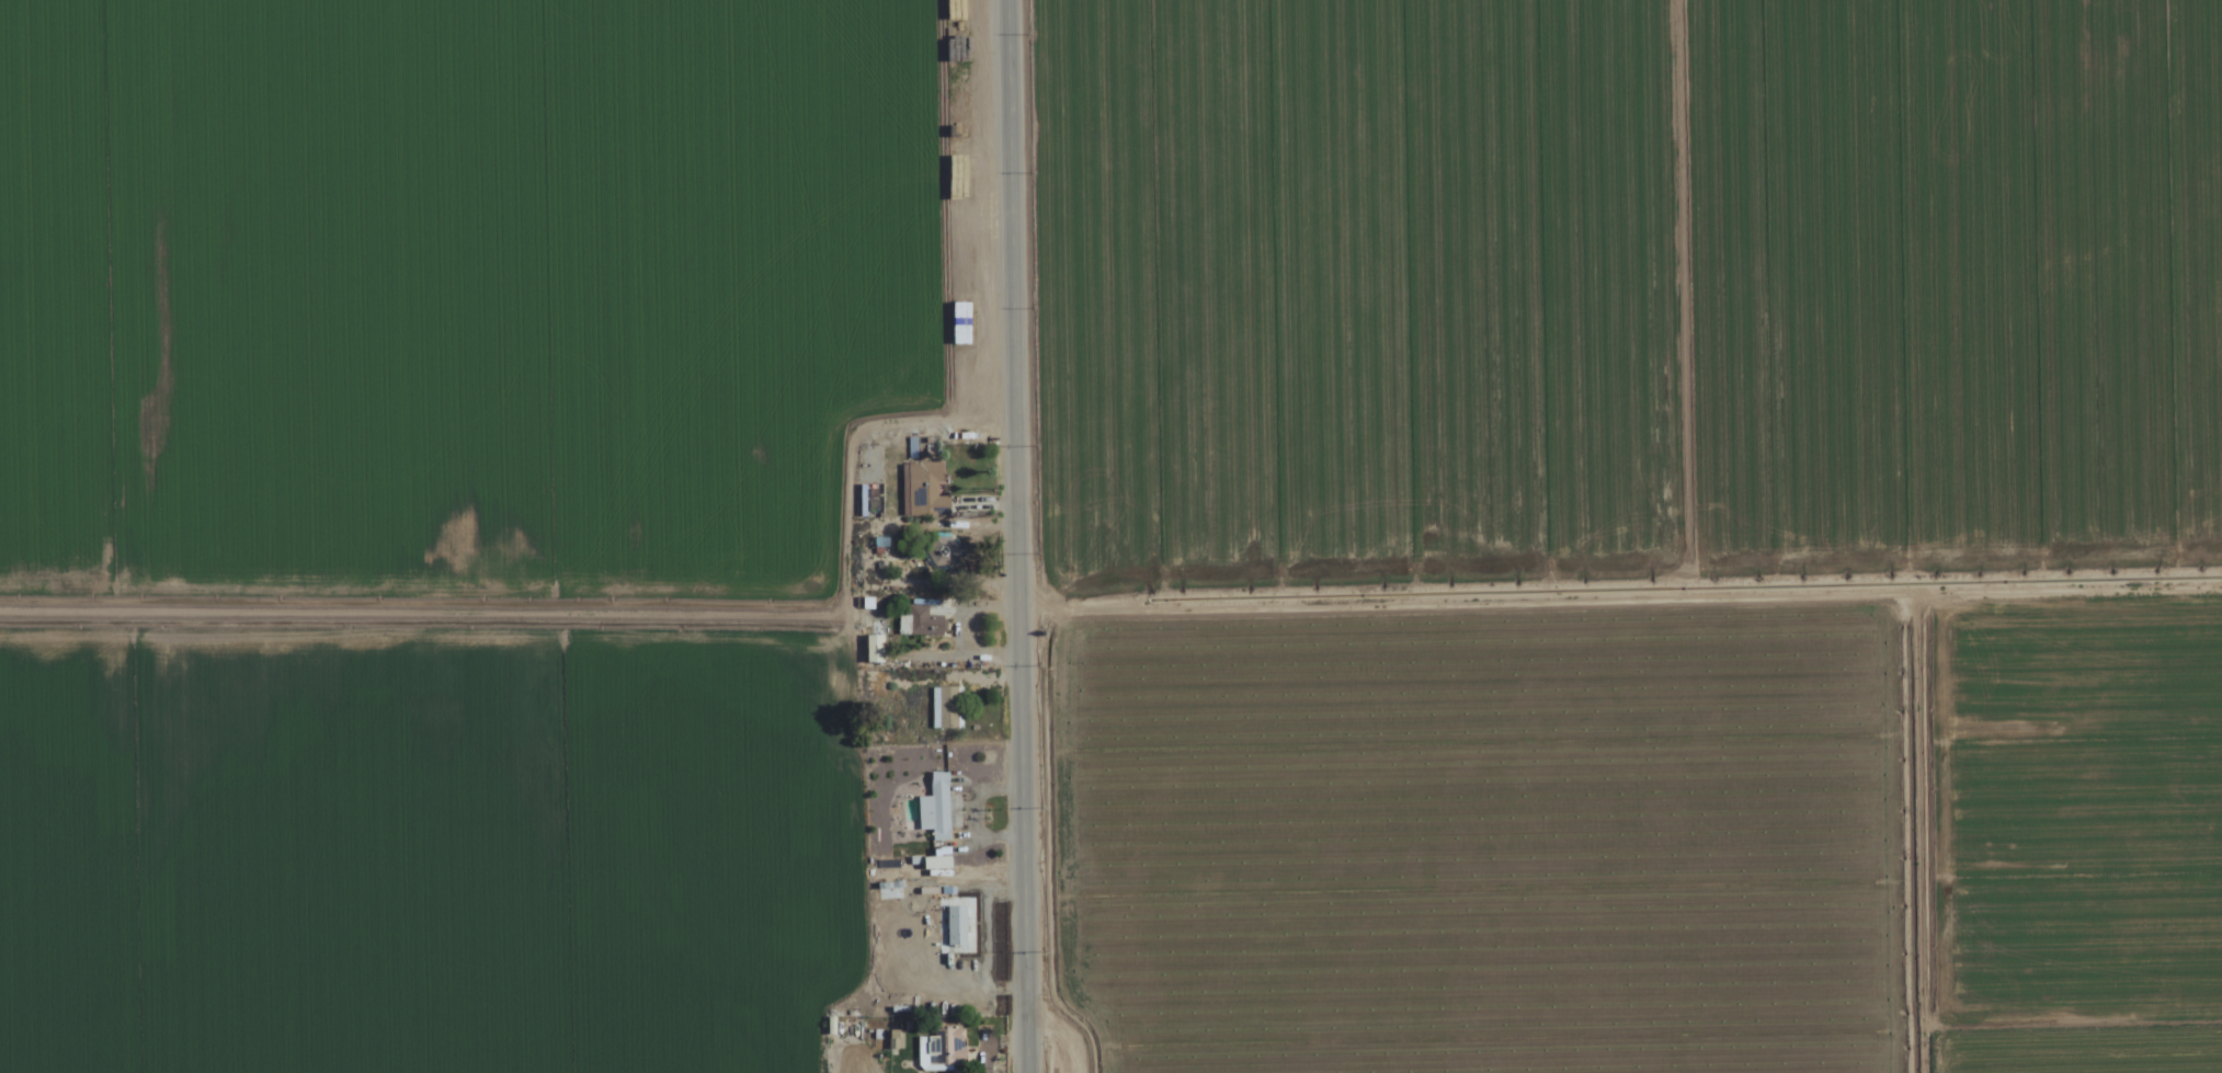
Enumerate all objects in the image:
building: (921, 489)
road: (1013, 536)
building: (920, 623)
building: (873, 649)
building: (944, 708)
building: (935, 809)
building: (933, 864)
building: (957, 931)
building: (941, 1050)

